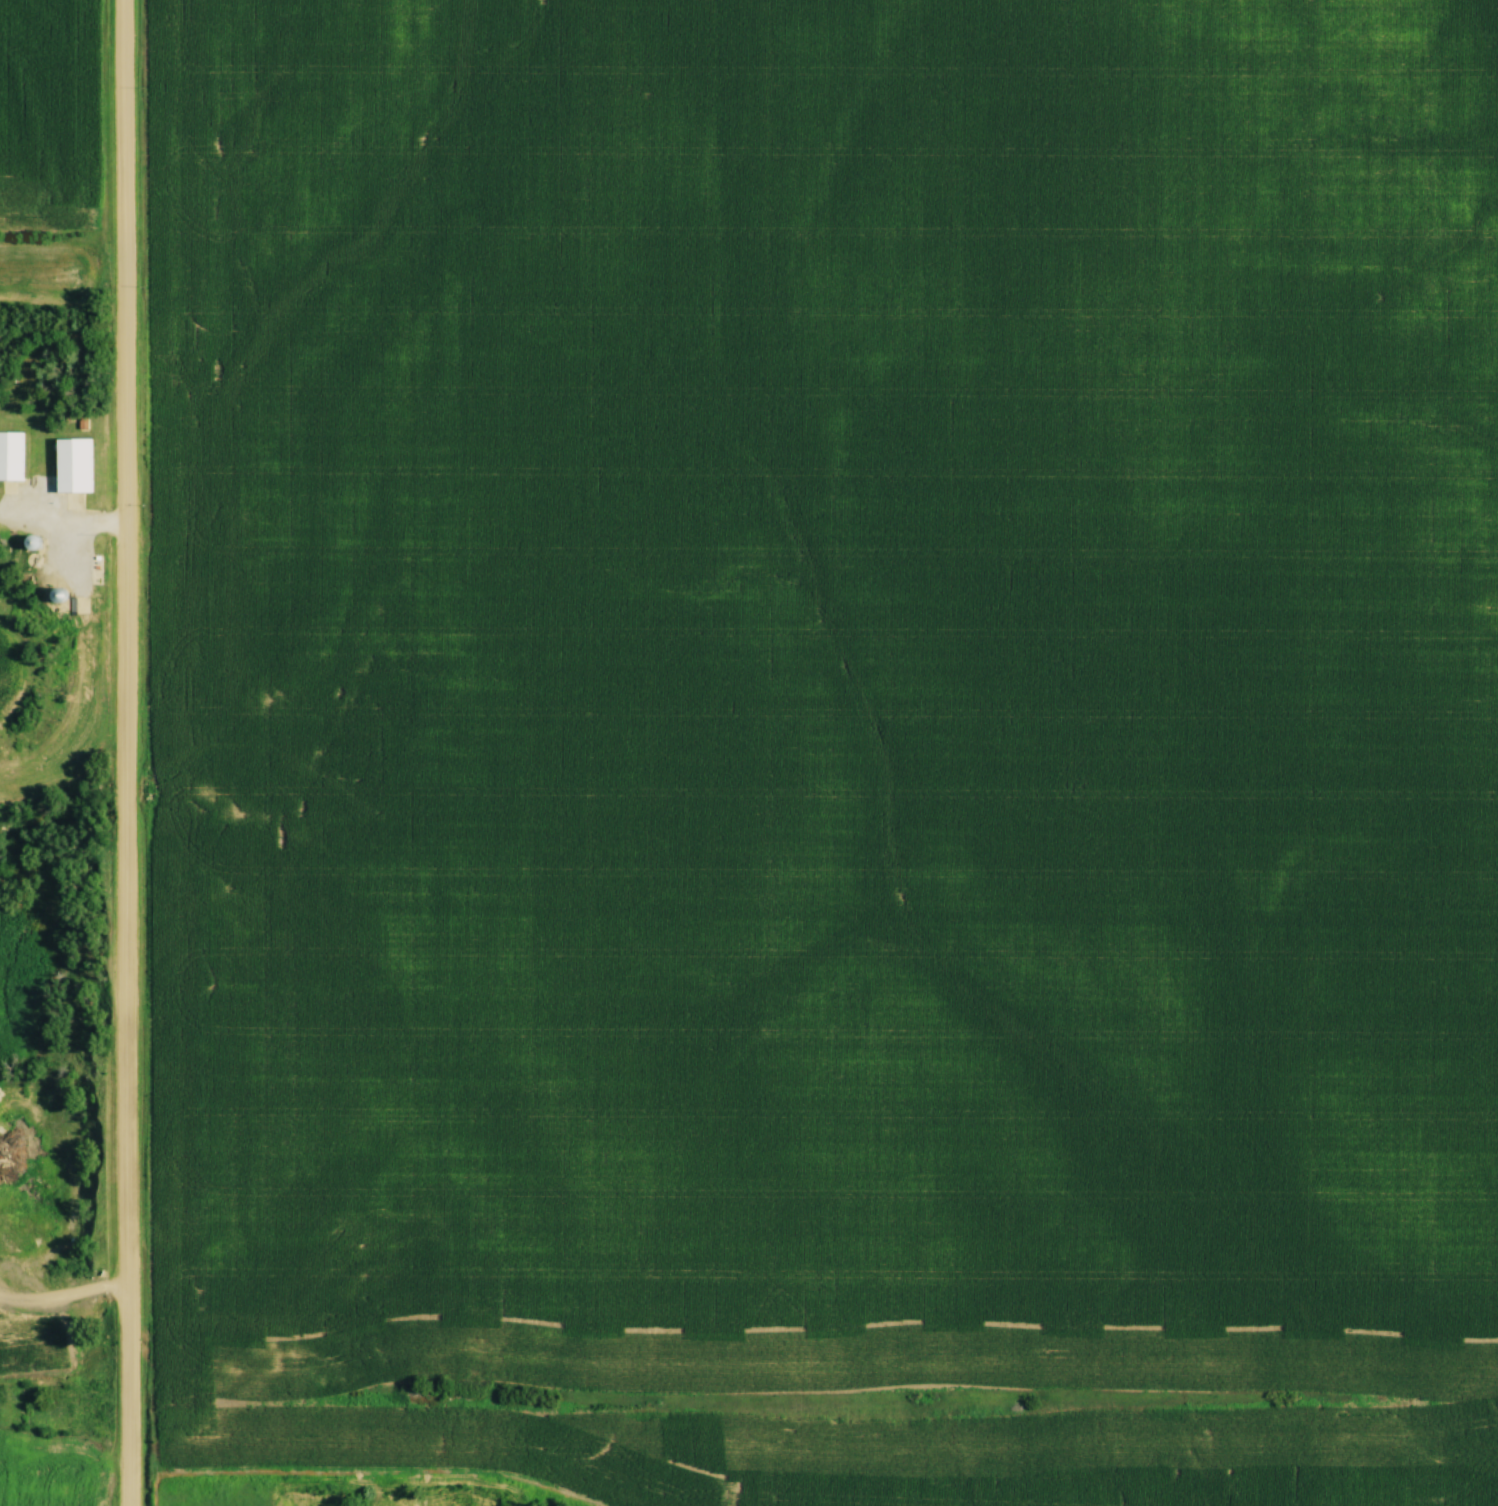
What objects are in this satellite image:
building: (10, 455)
building: (71, 465)
road: (128, 752)
road: (65, 1302)

